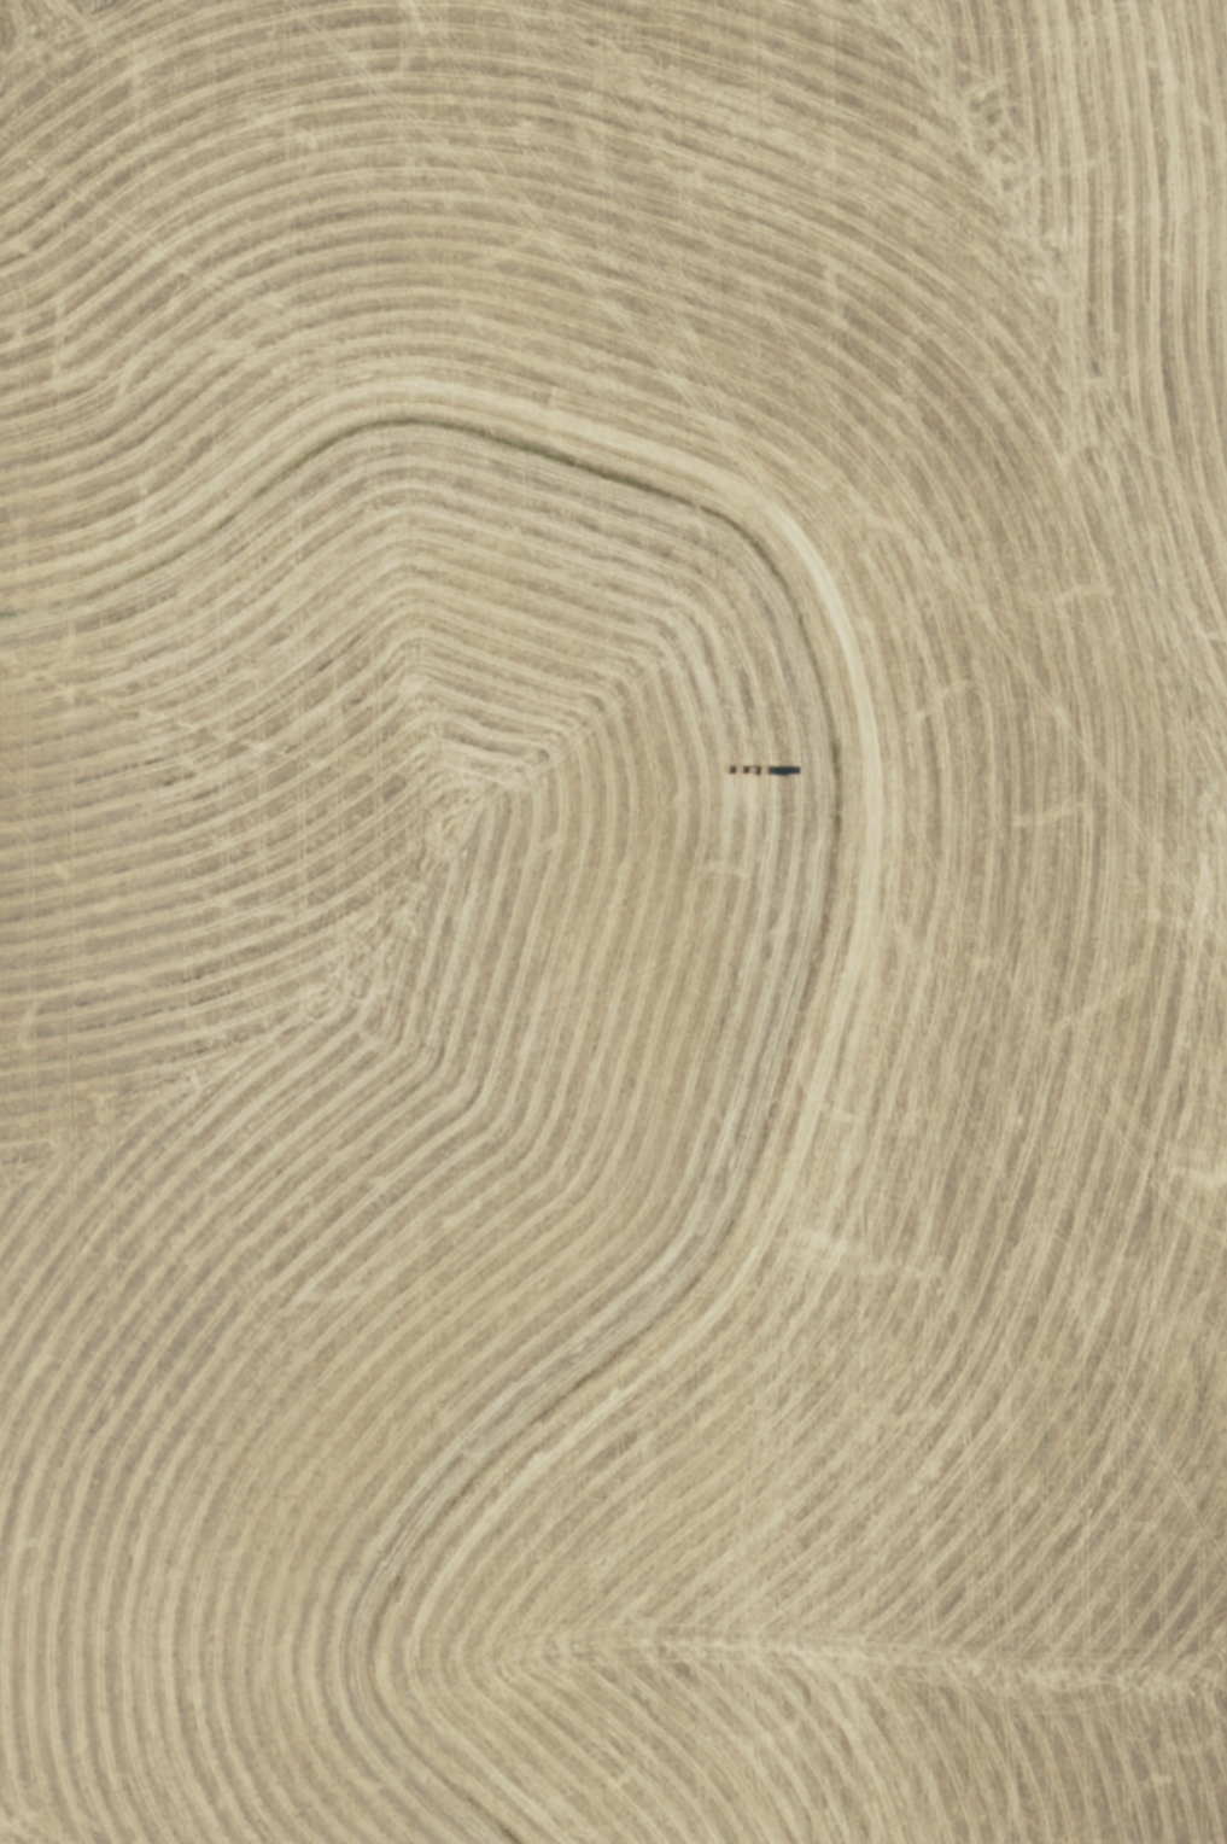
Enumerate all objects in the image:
crop: (613, 922)

